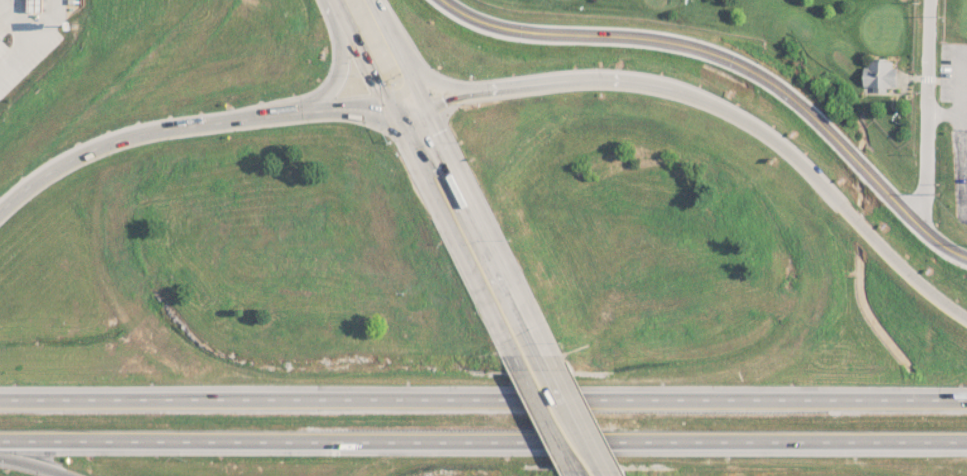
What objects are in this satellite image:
road: (44, 25)
park: (796, 39)
road: (26, 40)
road: (395, 49)
road: (366, 55)
road: (739, 59)
road: (606, 72)
building: (879, 75)
parking lot: (965, 79)
road: (453, 87)
traffic signals: (421, 98)
road: (331, 102)
traffic signals: (394, 111)
road: (925, 111)
park: (955, 118)
road: (145, 128)
road: (17, 196)
road: (836, 199)
road: (480, 219)
road: (454, 232)
road: (483, 399)
road: (574, 408)
road: (545, 414)
road: (483, 440)
road: (36, 464)

